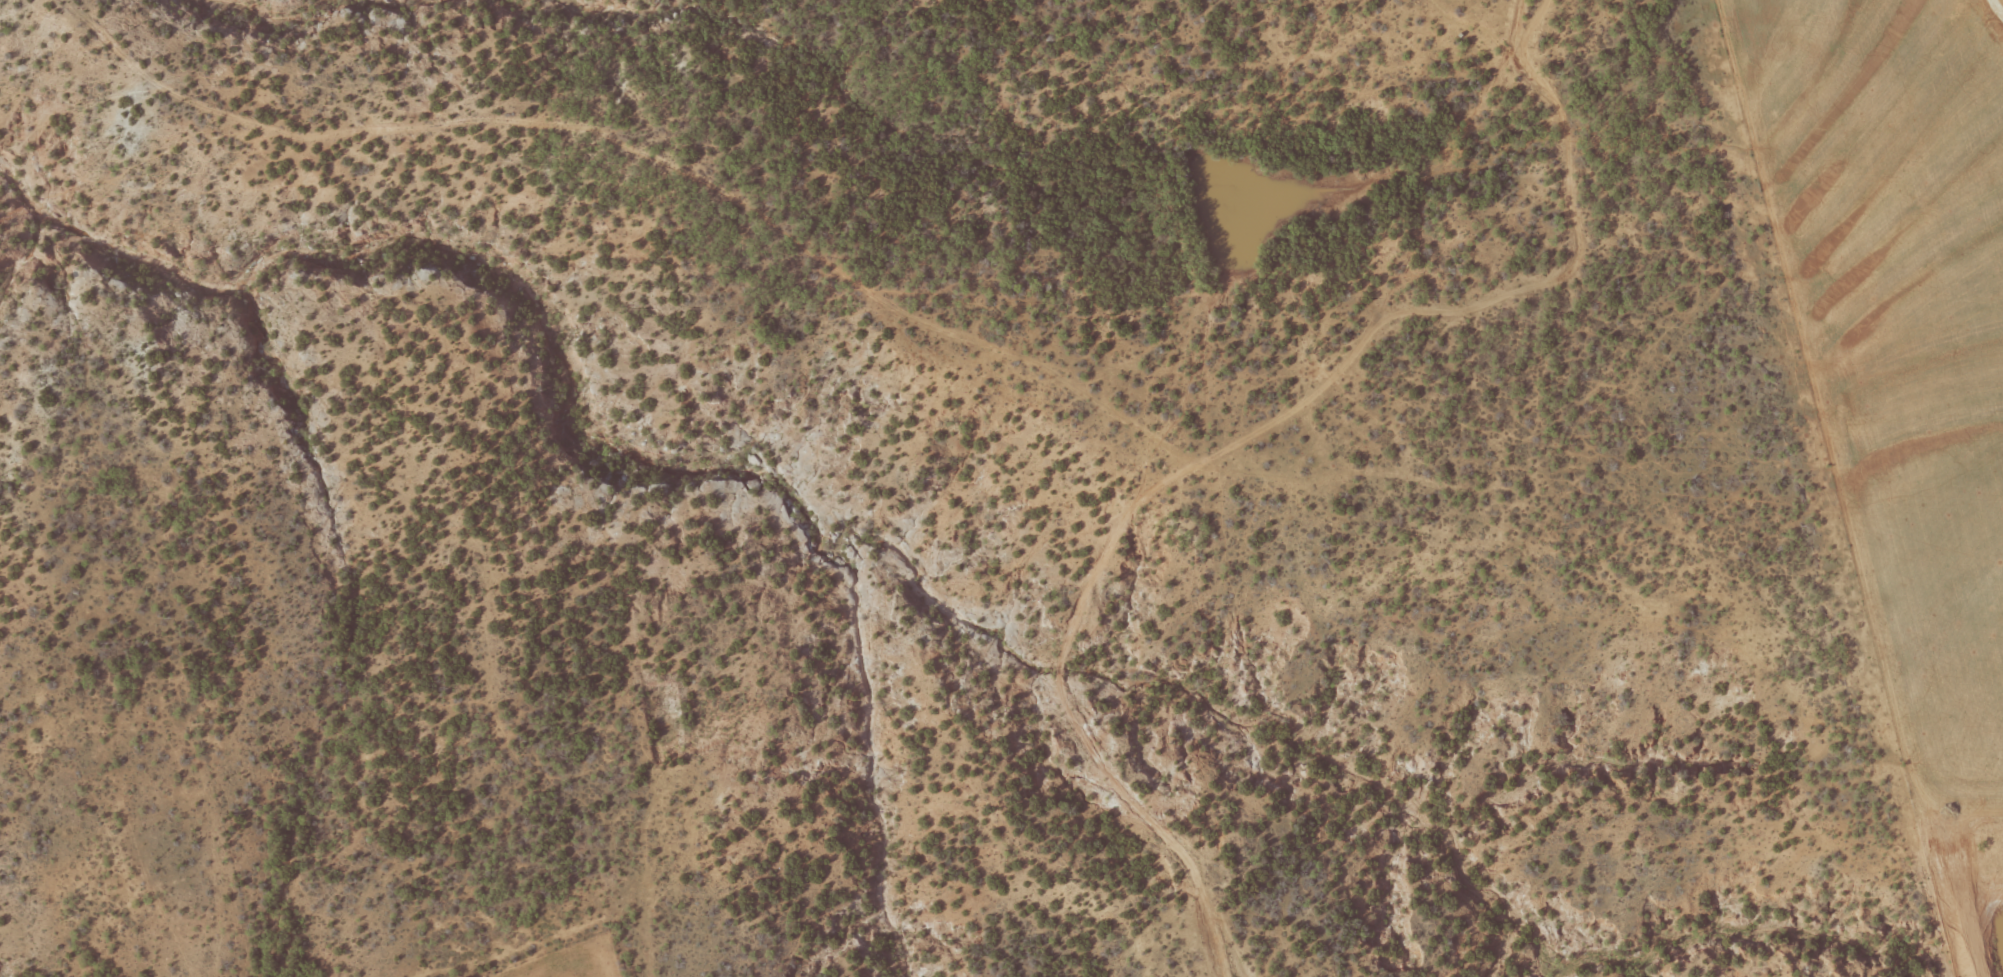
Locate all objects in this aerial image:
road: (1803, 432)

